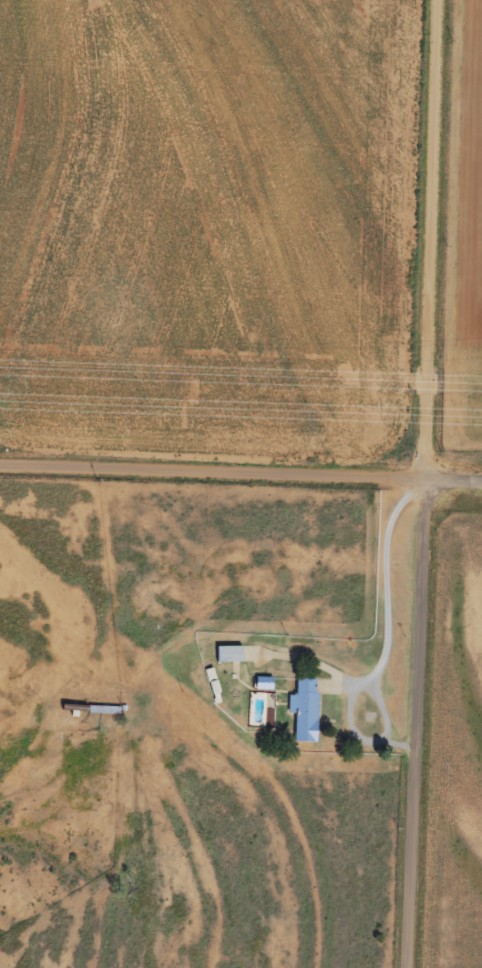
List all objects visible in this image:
road: (212, 470)
road: (453, 477)
road: (424, 484)
building: (228, 652)
building: (270, 682)
building: (304, 708)
road: (153, 867)

